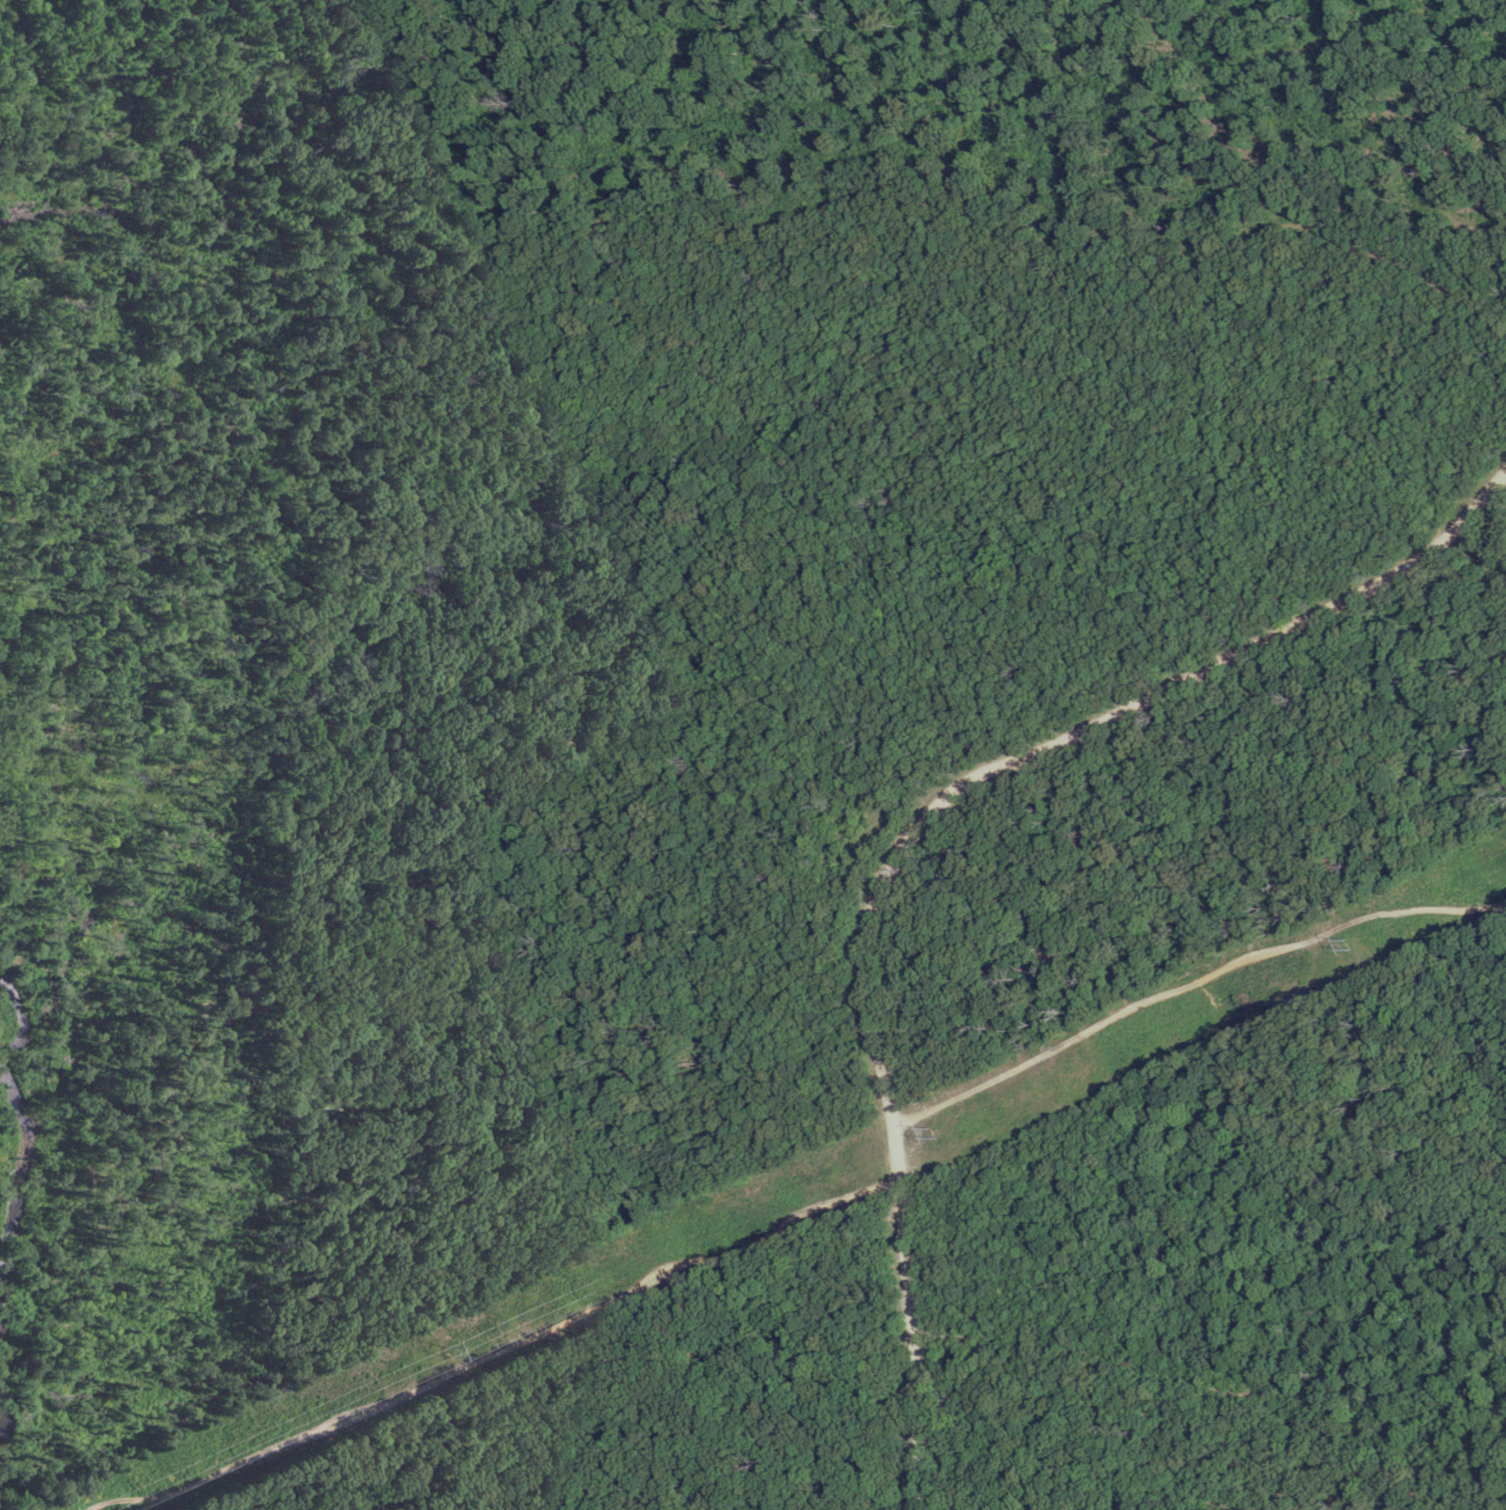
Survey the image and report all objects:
road: (923, 834)
road: (1192, 985)
road: (1084, 1352)
road: (491, 1355)

